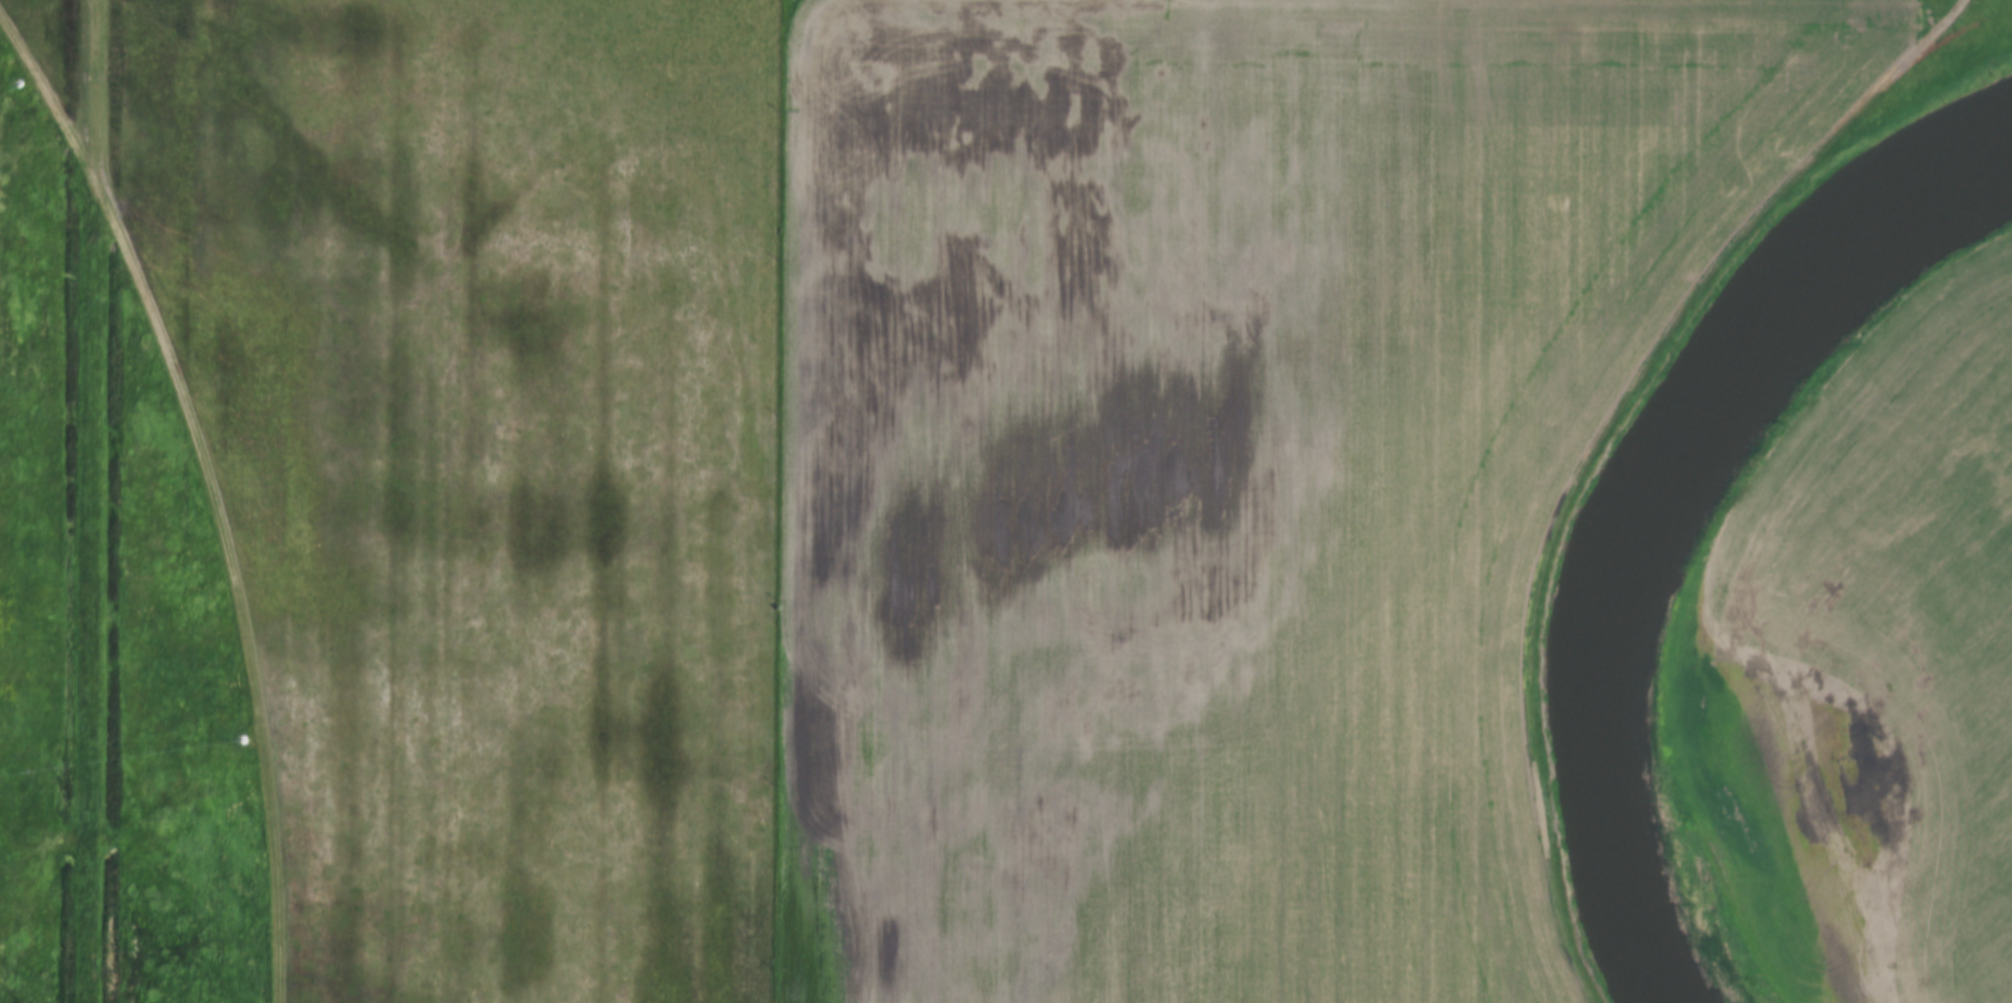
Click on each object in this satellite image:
road: (1596, 443)
road: (219, 481)
road: (102, 501)
river: (1653, 506)

